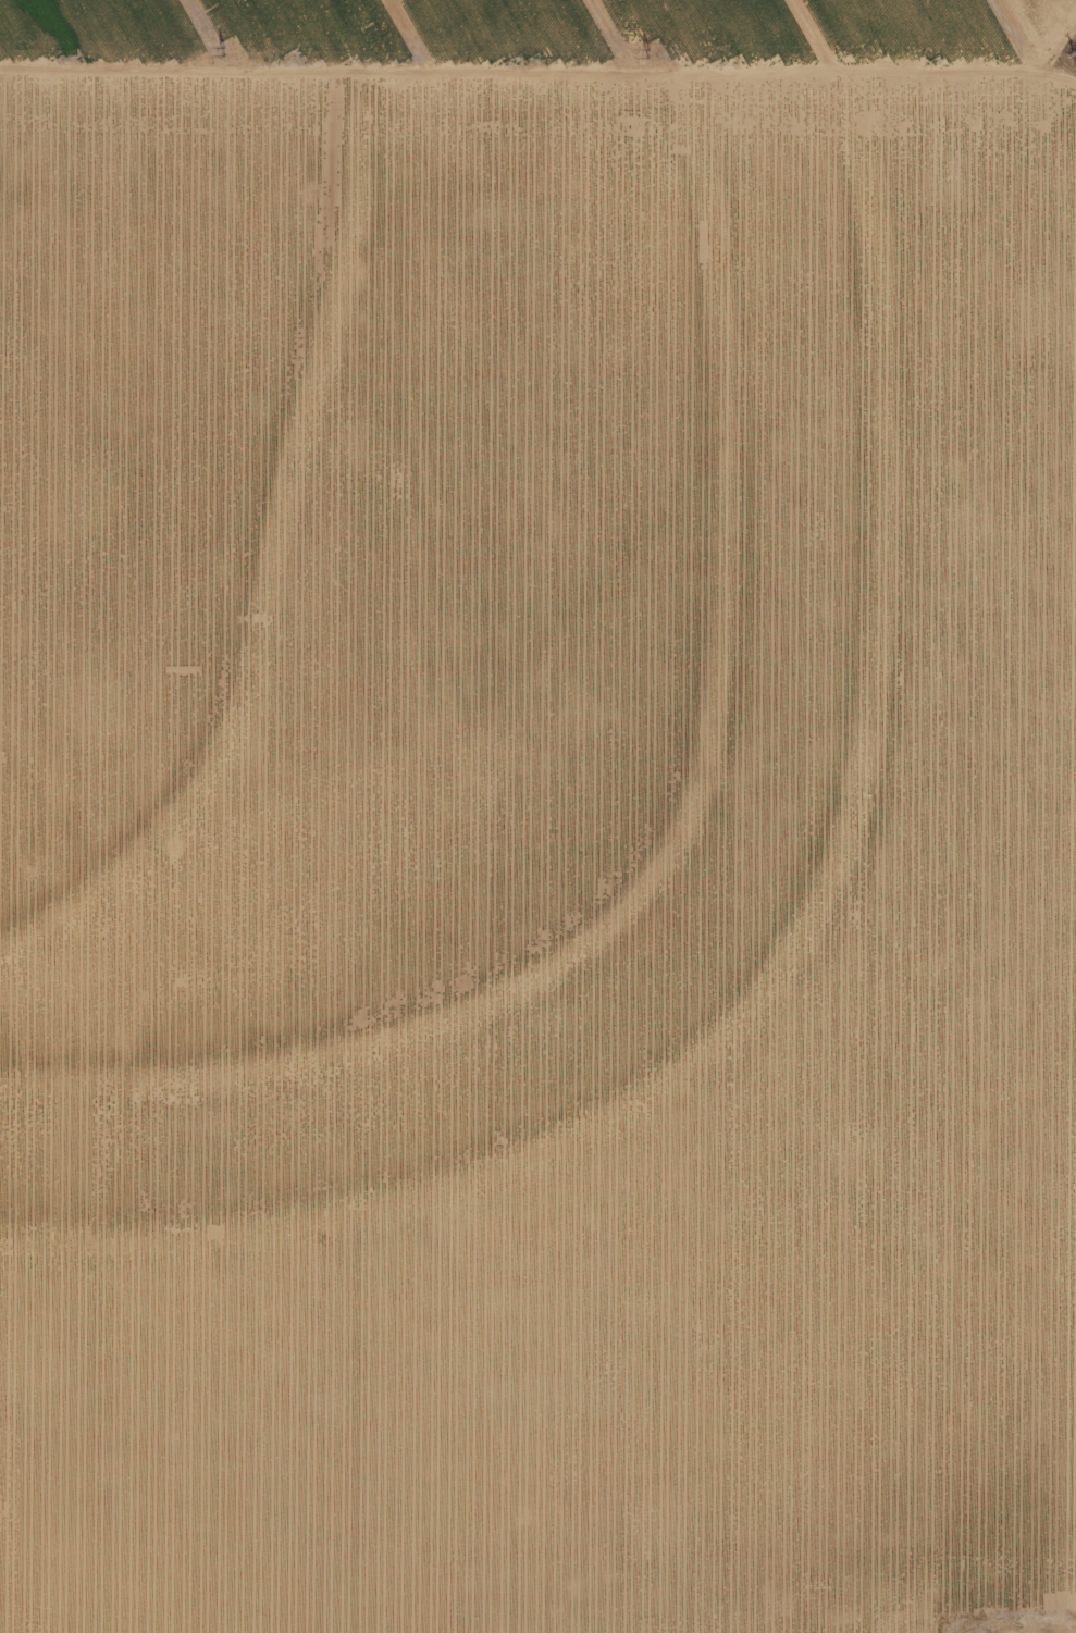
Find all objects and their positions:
power tower: (220, 51)
power tower: (642, 51)
power tower: (1073, 58)
road: (537, 88)
road: (1058, 865)

